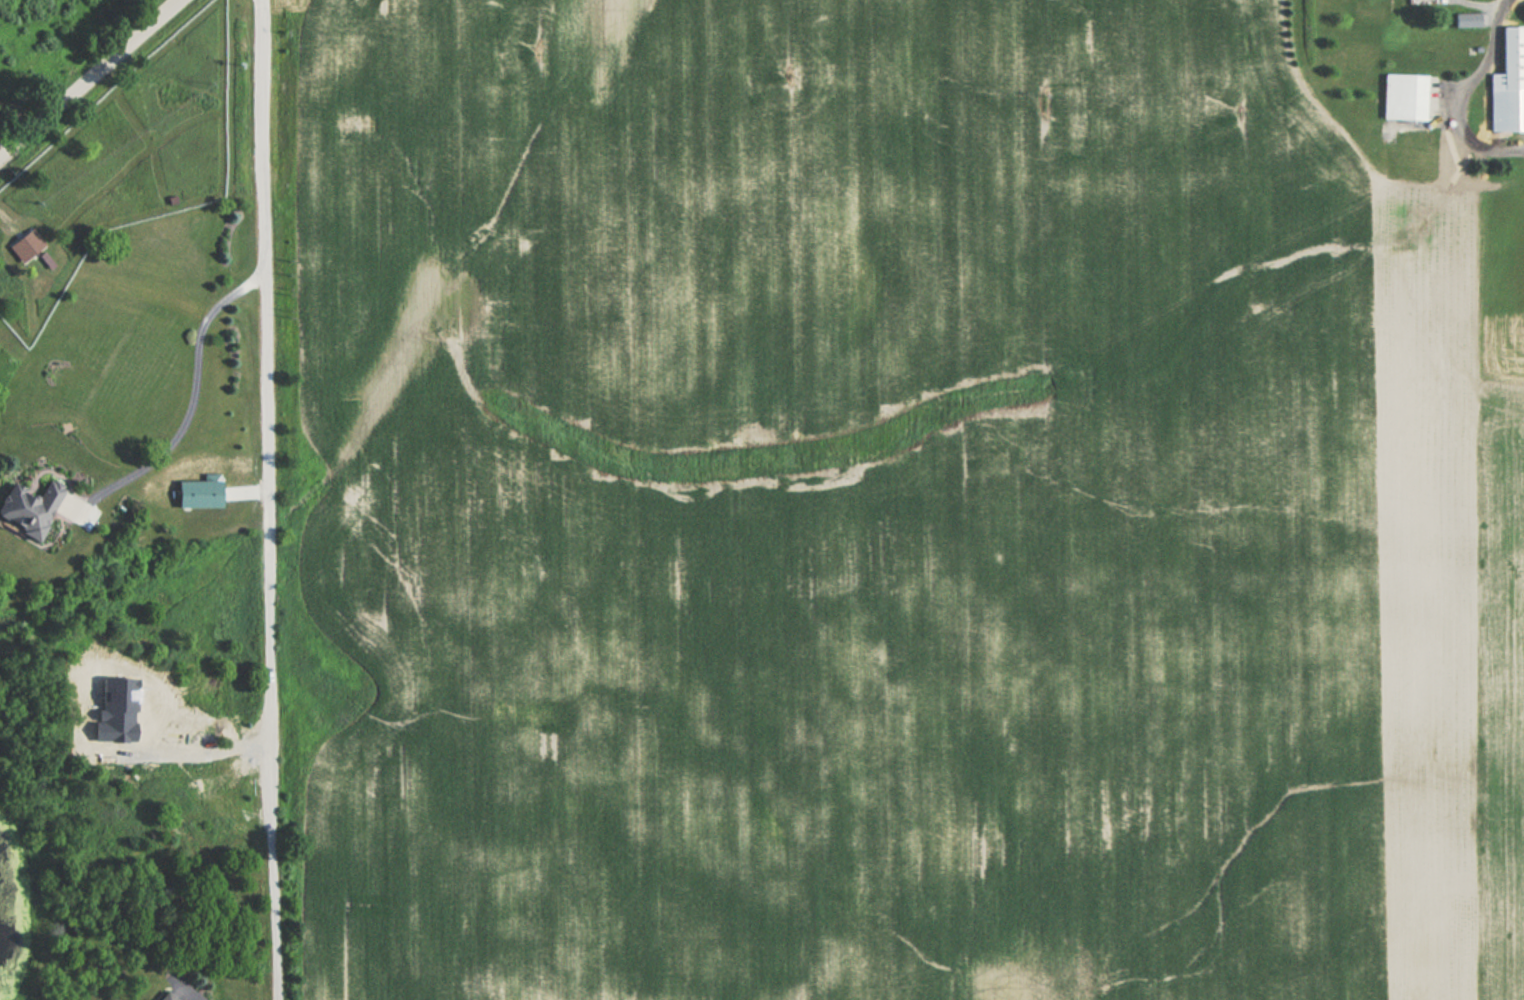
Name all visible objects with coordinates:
road: (1479, 5)
road: (1491, 17)
building: (1466, 18)
road: (89, 80)
building: (1508, 82)
road: (1461, 95)
building: (1403, 96)
road: (3, 152)
road: (191, 395)
road: (270, 500)
building: (28, 508)
road: (209, 751)
building: (164, 997)

